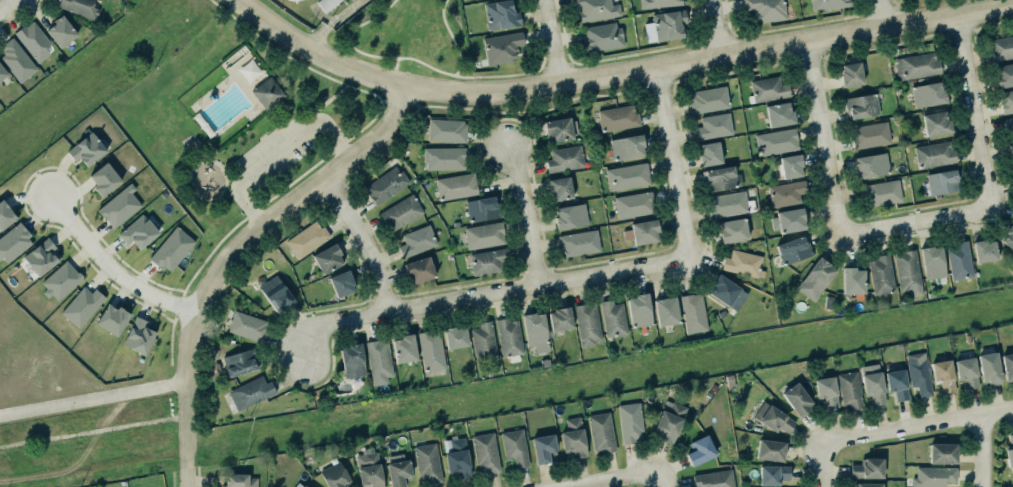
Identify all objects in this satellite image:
building: (657, 3)
road: (6, 4)
building: (326, 4)
building: (828, 4)
building: (80, 7)
building: (595, 9)
building: (764, 9)
road: (882, 14)
building: (499, 15)
road: (334, 23)
building: (668, 25)
road: (721, 28)
building: (59, 32)
building: (603, 36)
park: (415, 39)
building: (32, 41)
road: (555, 42)
building: (502, 47)
building: (1002, 48)
road: (410, 59)
building: (15, 60)
building: (917, 66)
road: (395, 71)
building: (848, 72)
building: (2, 73)
road: (617, 74)
building: (1004, 75)
road: (511, 76)
building: (767, 88)
building: (268, 93)
building: (926, 93)
road: (395, 96)
building: (705, 96)
park: (209, 97)
building: (1005, 100)
building: (862, 106)
road: (977, 111)
road: (274, 113)
road: (375, 113)
road: (308, 114)
building: (780, 114)
building: (618, 117)
road: (330, 120)
road: (283, 121)
building: (933, 122)
building: (1008, 124)
building: (712, 125)
building: (556, 128)
building: (445, 129)
building: (867, 134)
road: (824, 138)
building: (774, 140)
road: (251, 145)
building: (625, 145)
building: (86, 149)
building: (708, 152)
building: (1009, 152)
road: (279, 153)
building: (931, 153)
parking lot: (275, 155)
building: (442, 156)
building: (563, 157)
building: (869, 163)
road: (677, 164)
building: (788, 164)
park: (290, 174)
building: (626, 175)
building: (719, 177)
building: (104, 179)
building: (941, 181)
building: (385, 185)
building: (455, 185)
building: (560, 188)
road: (188, 189)
building: (784, 192)
building: (878, 192)
building: (725, 203)
building: (631, 204)
building: (120, 206)
building: (480, 207)
building: (399, 210)
road: (529, 213)
building: (568, 214)
building: (5, 215)
building: (788, 219)
road: (917, 221)
building: (731, 229)
building: (138, 232)
building: (644, 232)
building: (482, 234)
building: (1007, 235)
building: (304, 238)
building: (415, 240)
road: (365, 241)
building: (577, 241)
building: (13, 242)
building: (172, 249)
building: (791, 249)
building: (982, 249)
road: (234, 251)
building: (325, 256)
building: (42, 257)
building: (929, 257)
building: (485, 260)
building: (959, 260)
building: (741, 262)
building: (904, 266)
building: (419, 270)
road: (110, 273)
building: (879, 273)
building: (813, 277)
building: (850, 279)
building: (61, 280)
building: (339, 280)
road: (489, 293)
building: (728, 293)
building: (276, 294)
building: (82, 306)
building: (639, 310)
building: (664, 310)
building: (691, 313)
building: (613, 318)
building: (112, 319)
building: (560, 319)
building: (585, 323)
building: (248, 326)
building: (536, 331)
building: (453, 335)
building: (138, 336)
building: (507, 336)
building: (482, 341)
building: (402, 347)
building: (429, 349)
building: (350, 359)
building: (376, 359)
building: (238, 360)
building: (987, 366)
building: (1007, 366)
building: (964, 371)
building: (919, 373)
building: (943, 375)
building: (873, 383)
building: (897, 384)
building: (850, 390)
building: (248, 391)
building: (826, 391)
building: (794, 398)
road: (93, 399)
building: (770, 417)
building: (667, 419)
building: (630, 422)
road: (919, 426)
building: (601, 432)
building: (571, 437)
building: (512, 446)
building: (541, 447)
building: (698, 449)
building: (767, 449)
road: (985, 451)
building: (485, 452)
building: (943, 453)
building: (1010, 453)
building: (455, 458)
building: (426, 462)
road: (825, 465)
building: (865, 467)
building: (368, 468)
building: (398, 469)
building: (771, 473)
building: (933, 475)
building: (335, 476)
building: (712, 479)
building: (237, 480)
road: (624, 480)
road: (663, 480)
building: (867, 484)

